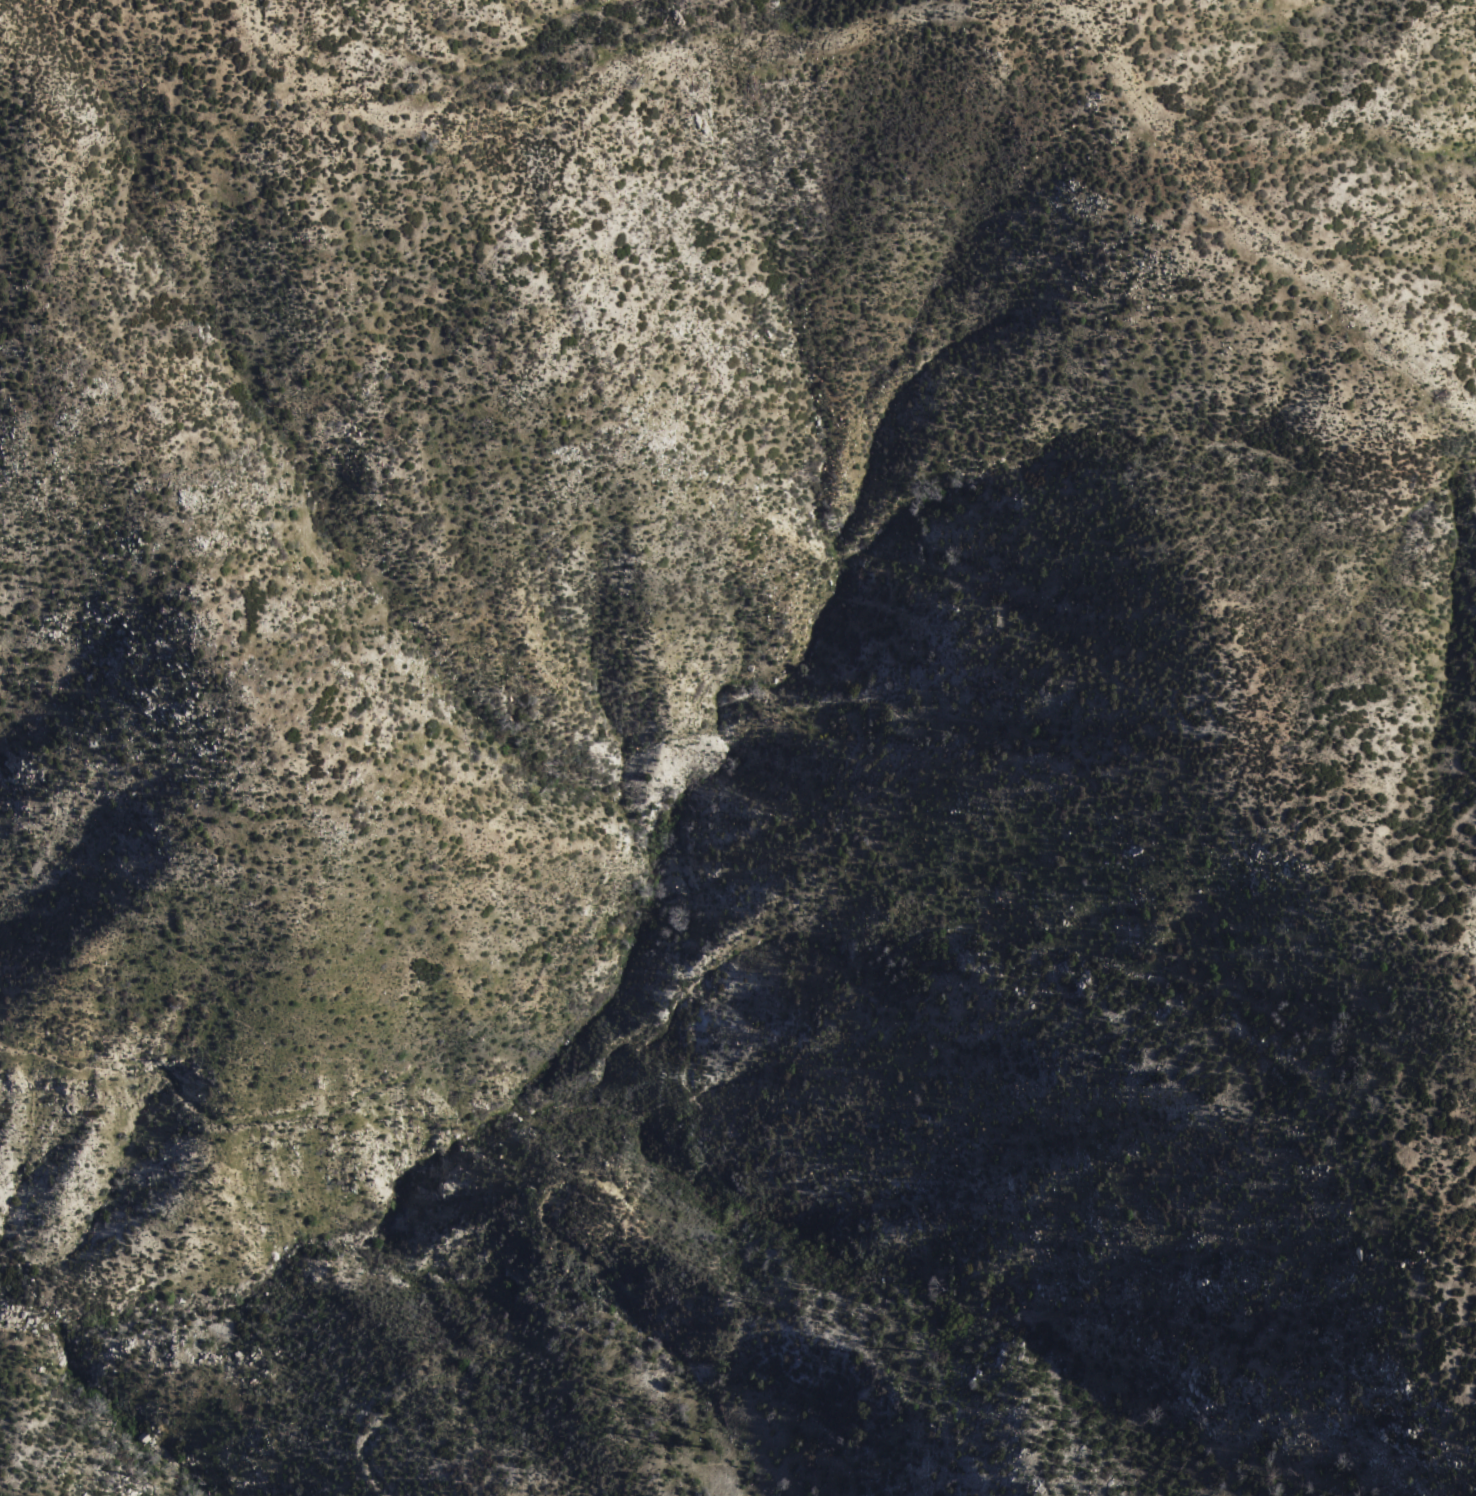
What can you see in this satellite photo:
road: (917, 26)
road: (1471, 934)

